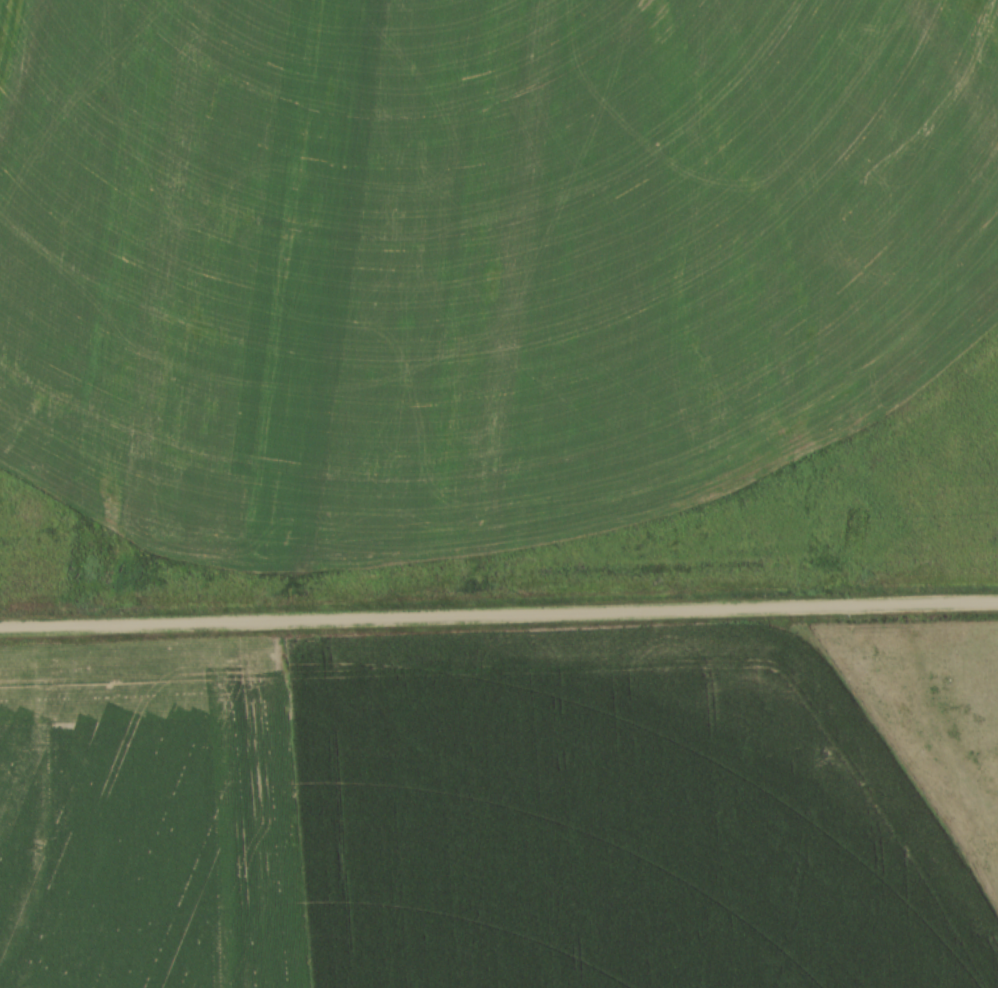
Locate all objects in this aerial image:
road: (499, 614)

